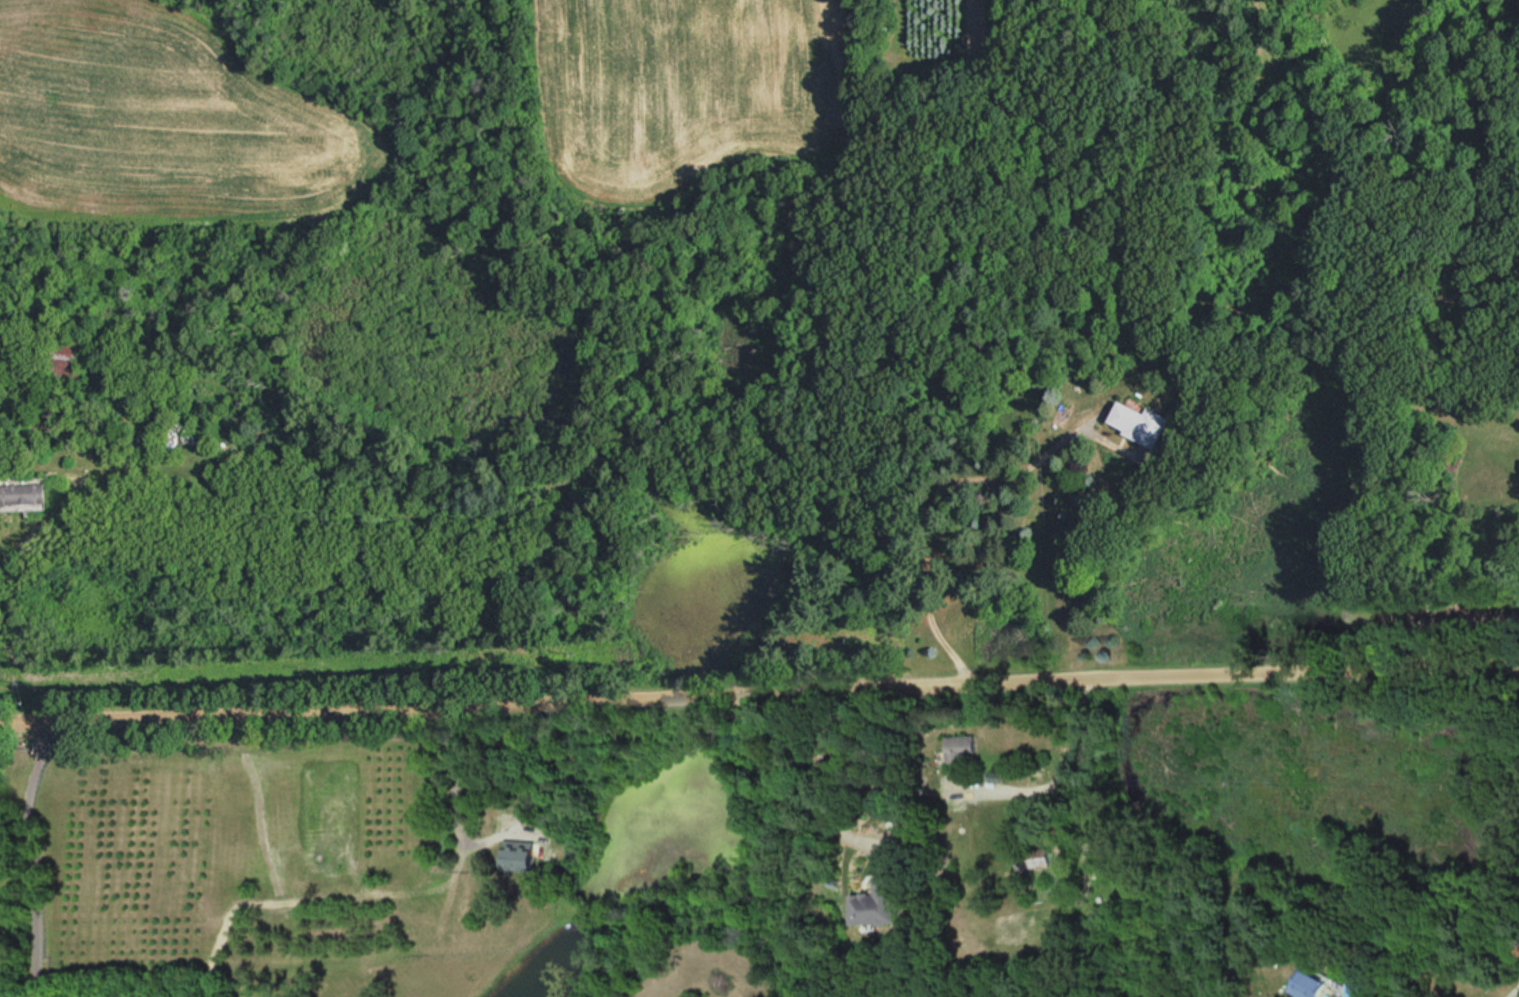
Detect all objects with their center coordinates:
building: (62, 356)
building: (1140, 422)
road: (949, 510)
road: (42, 528)
building: (13, 551)
road: (759, 680)
building: (959, 749)
road: (1063, 753)
road: (826, 774)
road: (453, 796)
road: (30, 854)
building: (1035, 857)
building: (879, 901)
building: (1308, 984)
road: (1513, 992)

